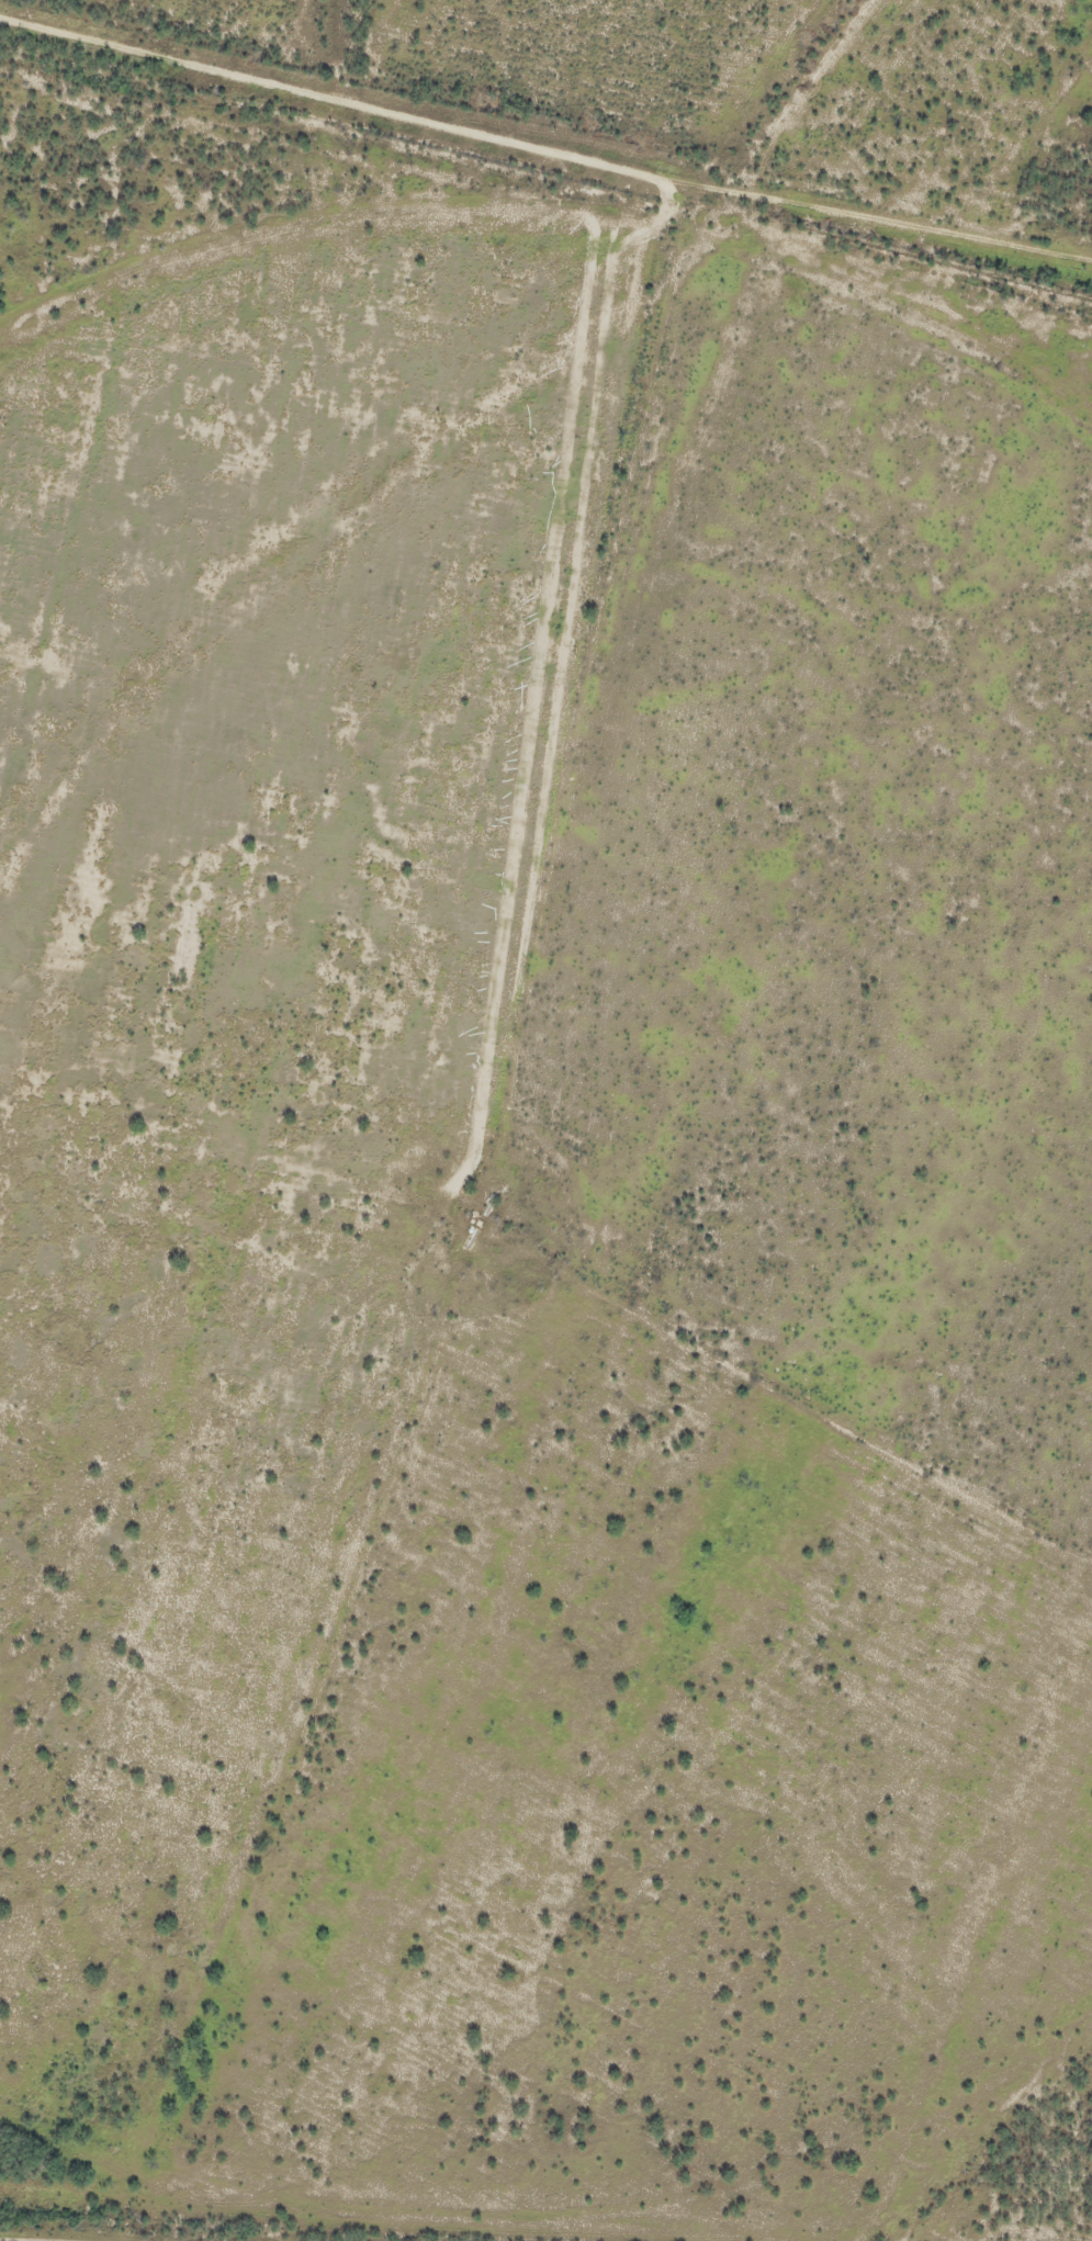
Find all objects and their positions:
road: (543, 146)
road: (4, 2240)

